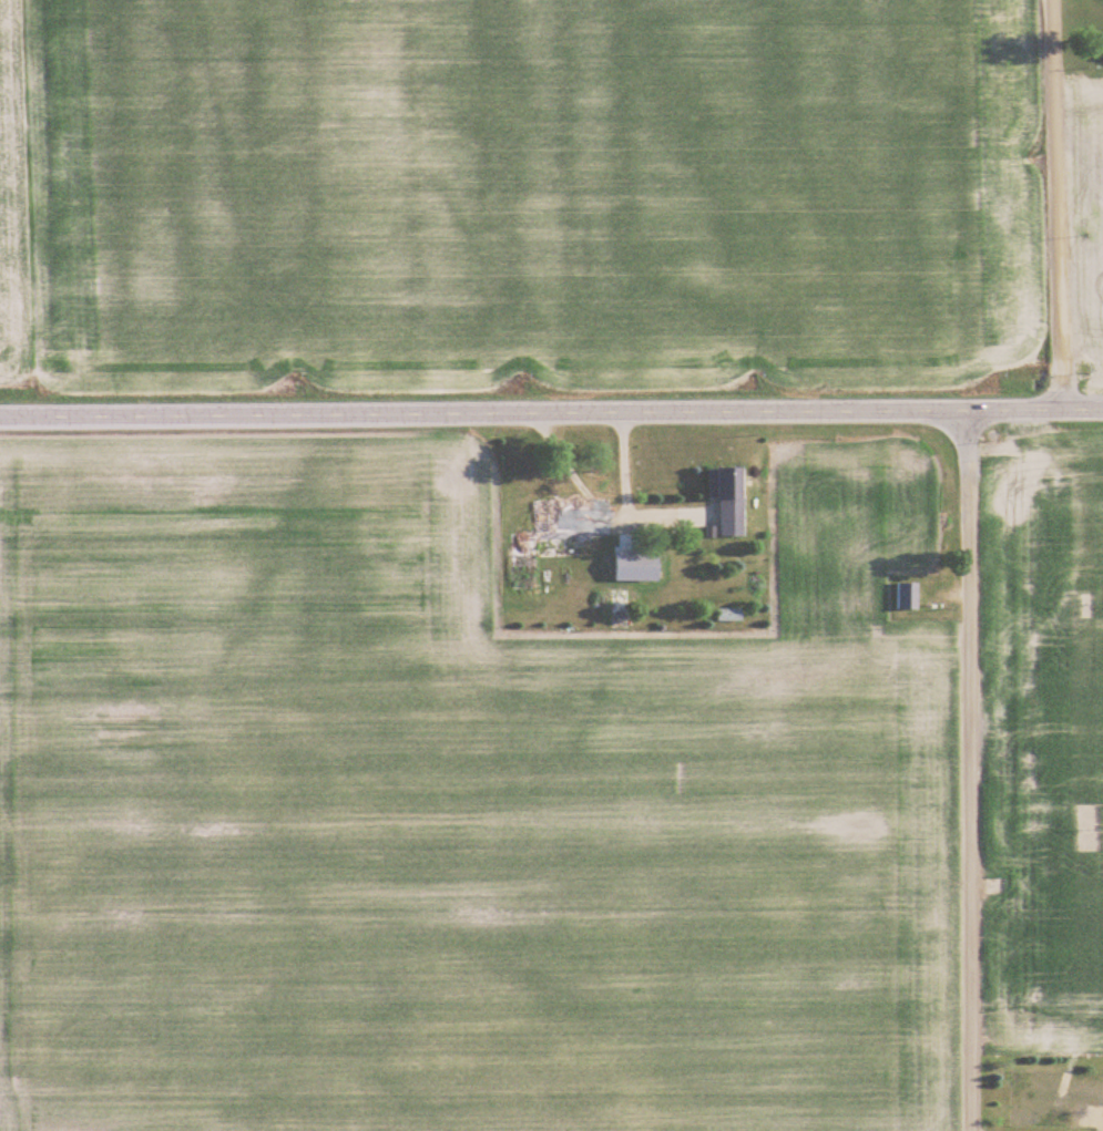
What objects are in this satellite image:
road: (1056, 204)
road: (551, 414)
building: (729, 498)
road: (622, 500)
building: (552, 537)
building: (907, 596)
building: (617, 607)
building: (727, 616)
road: (964, 770)

